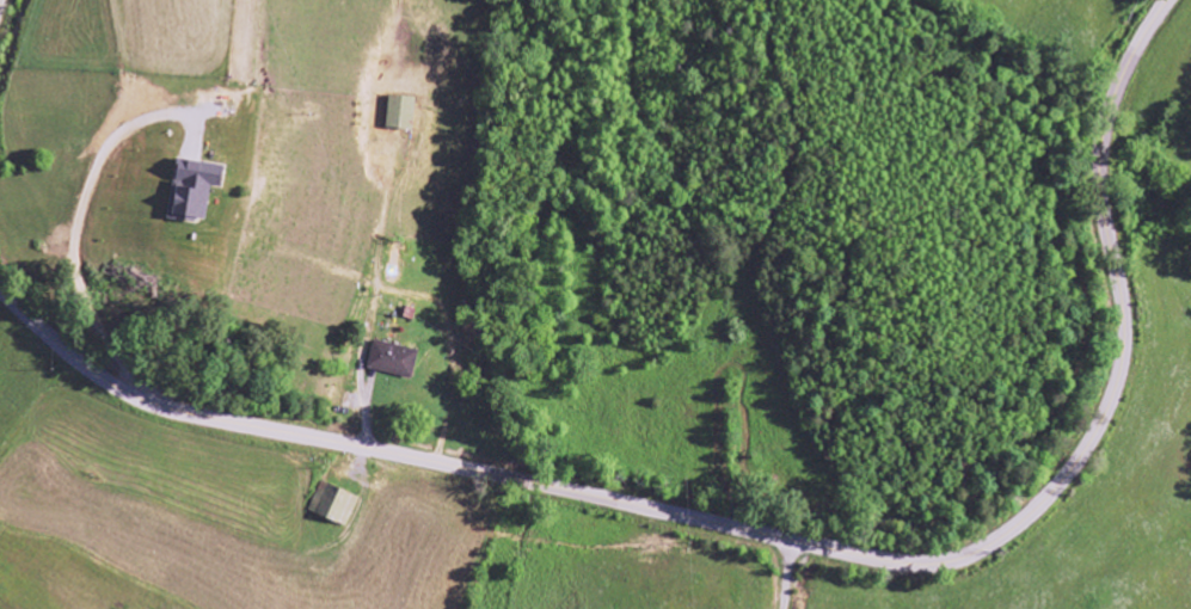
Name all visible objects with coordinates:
building: (401, 113)
building: (195, 190)
building: (392, 361)
building: (332, 504)
road: (776, 535)
road: (792, 574)

